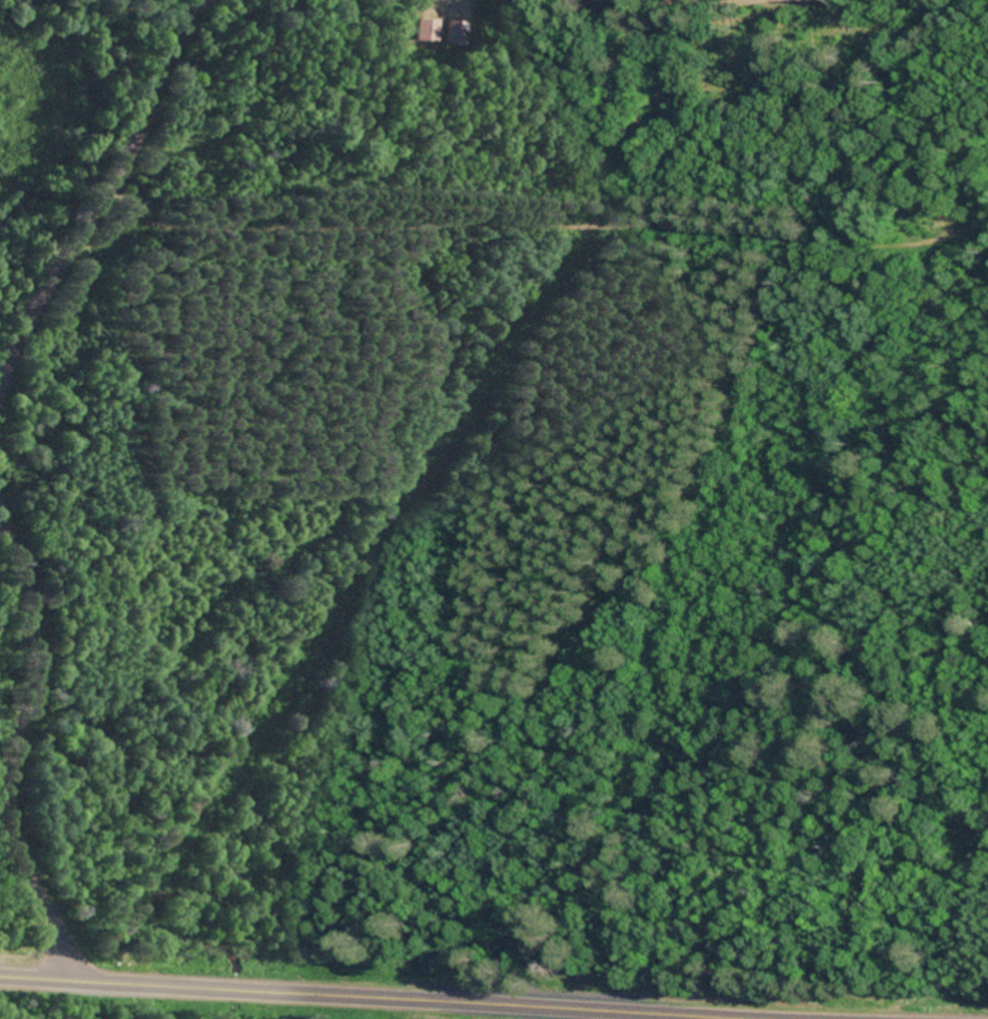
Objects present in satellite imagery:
building: (424, 31)
road: (105, 195)
road: (16, 746)
road: (368, 997)

